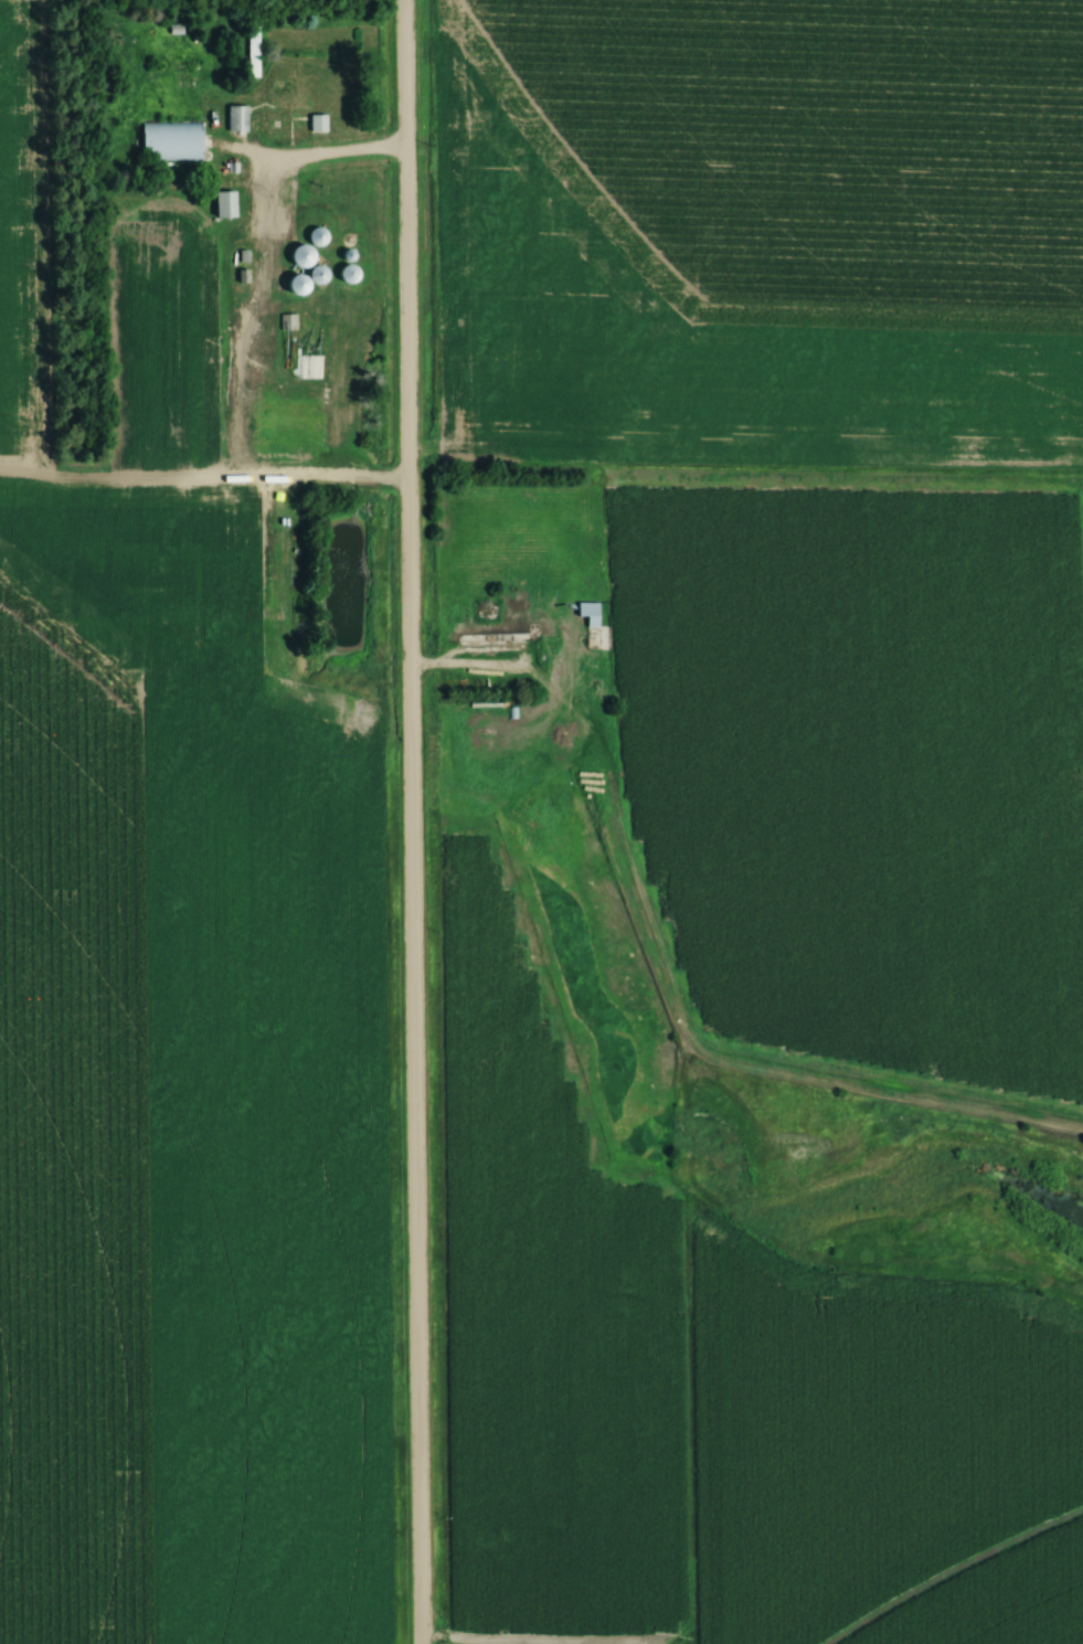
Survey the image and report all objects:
building: (251, 52)
building: (282, 92)
building: (234, 120)
building: (316, 125)
building: (169, 142)
building: (222, 205)
building: (315, 241)
building: (346, 258)
building: (301, 261)
building: (316, 278)
building: (347, 278)
building: (295, 289)
building: (322, 365)
building: (587, 615)
building: (510, 712)
road: (407, 821)

